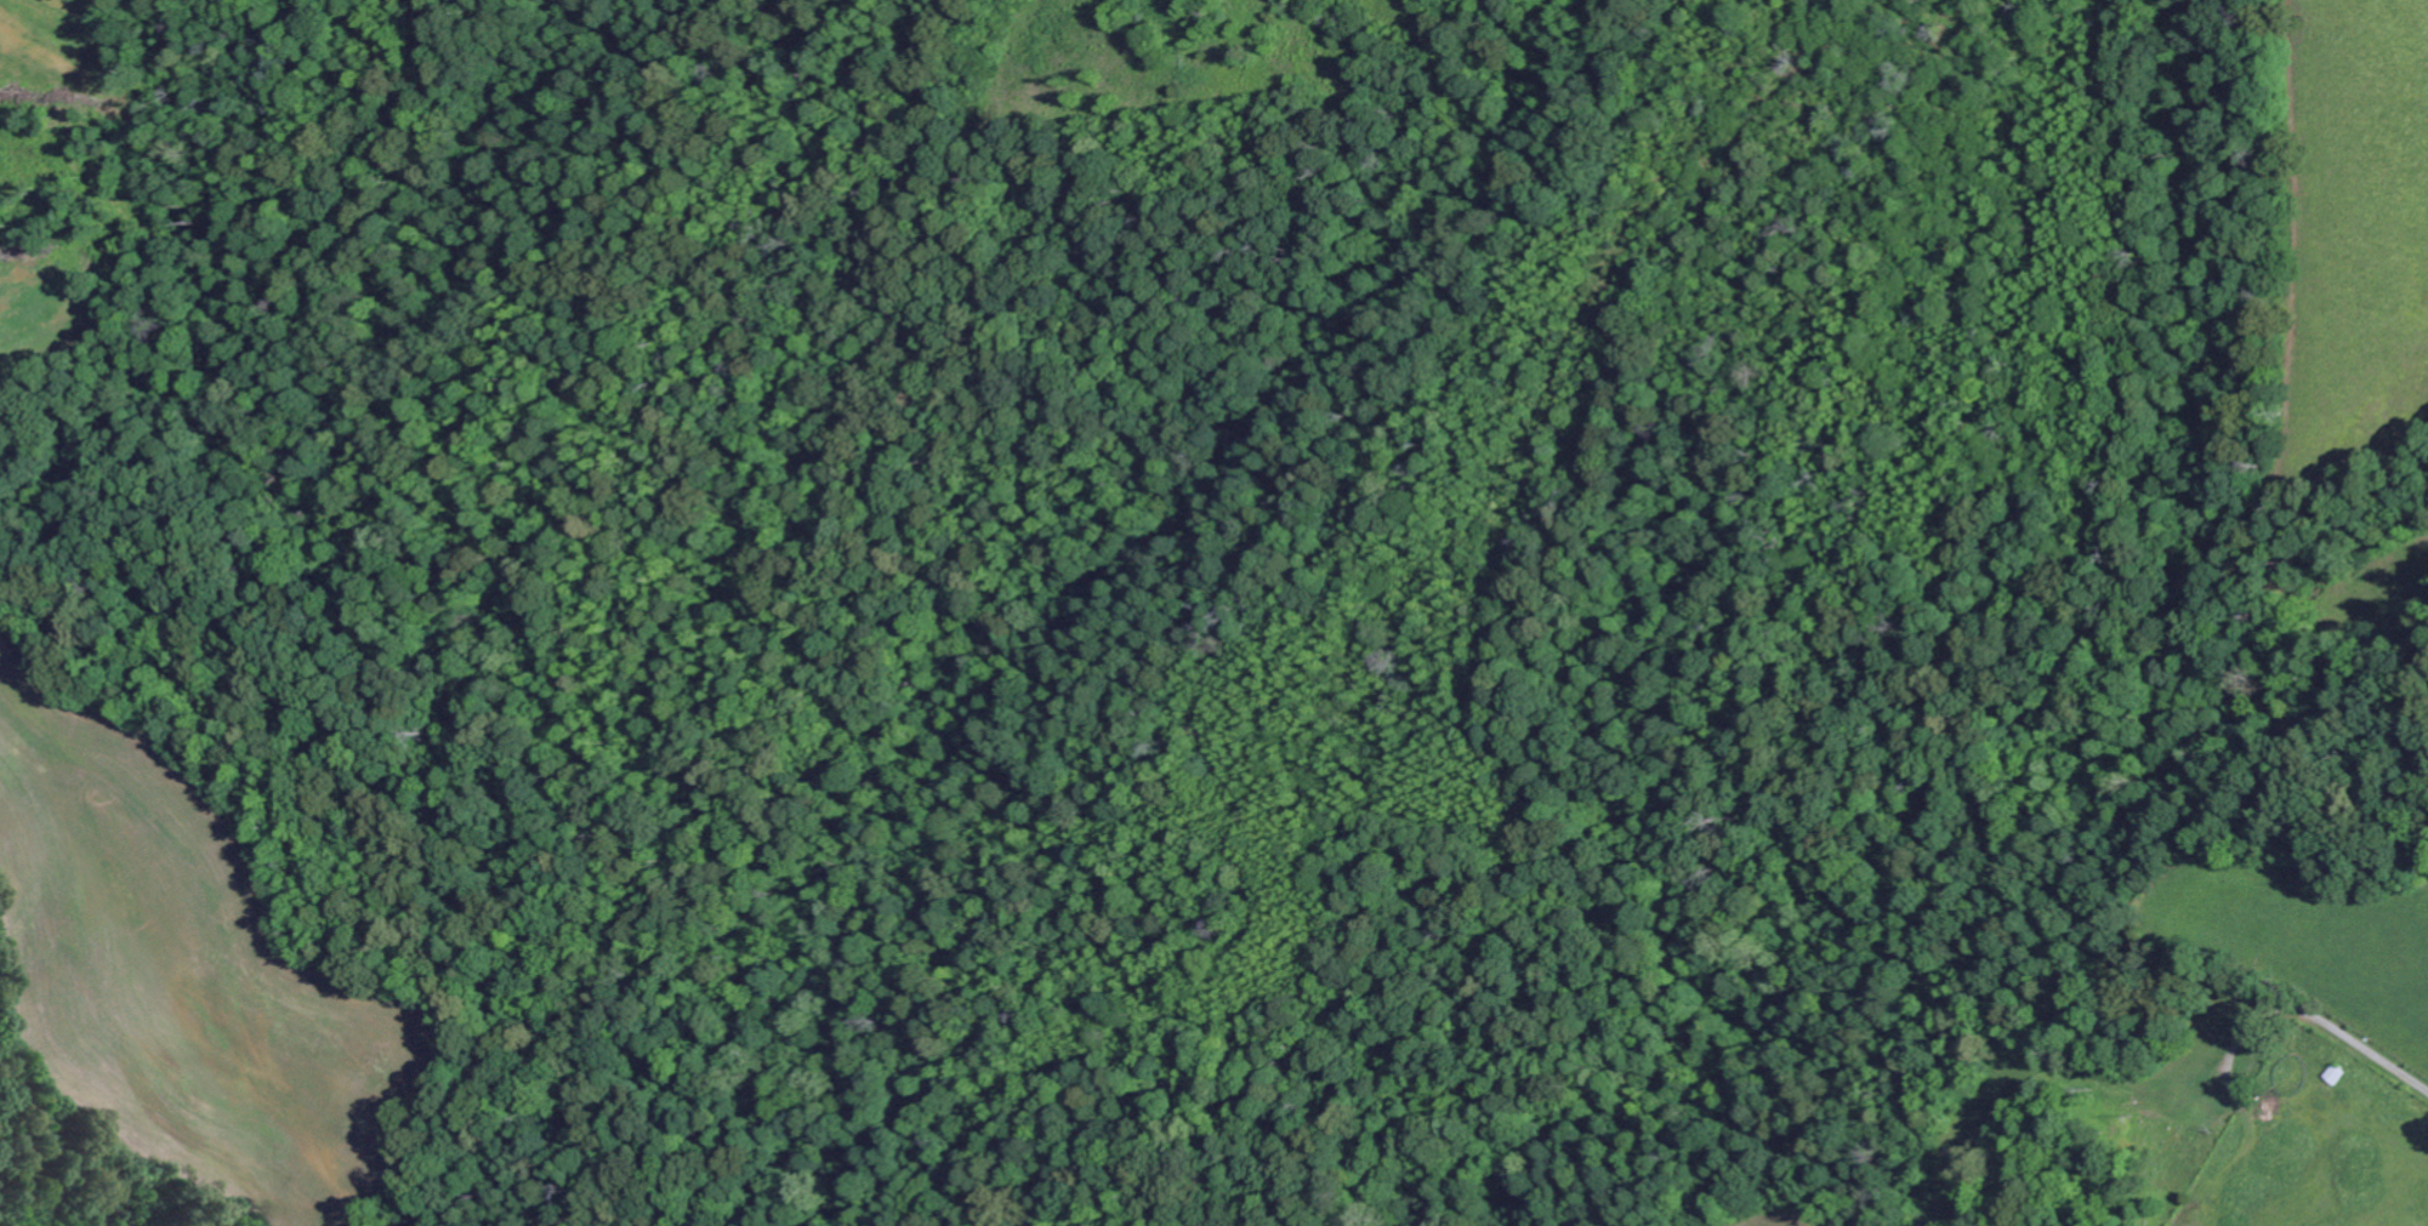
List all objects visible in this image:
road: (2301, 1013)

